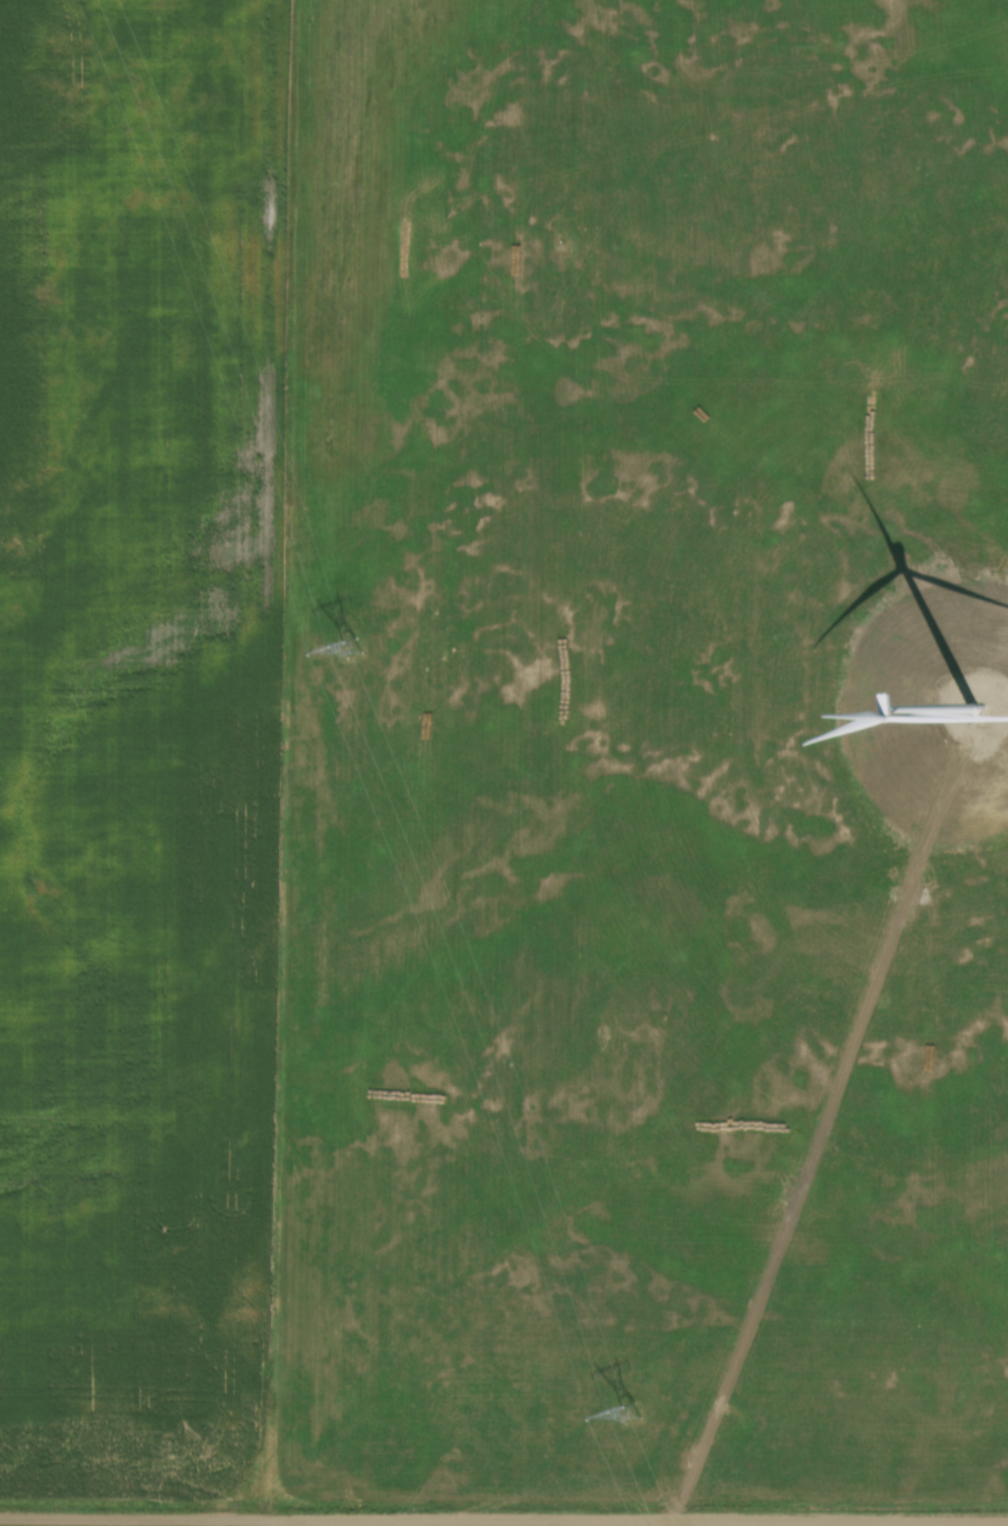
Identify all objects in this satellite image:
power tower: (352, 649)
wind turbine: (971, 709)
power tower: (633, 1416)
road: (134, 1520)

